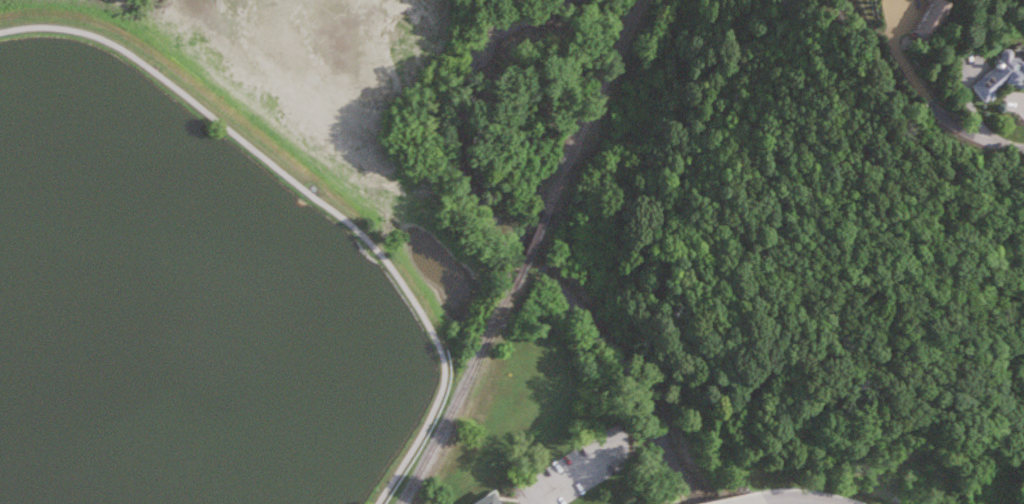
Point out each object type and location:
building: (928, 20)
building: (1001, 74)
road: (932, 103)
railway: (591, 108)
road: (316, 199)
railway: (524, 253)
railway: (458, 398)
road: (563, 478)
road: (802, 495)
building: (487, 500)
road: (747, 502)

